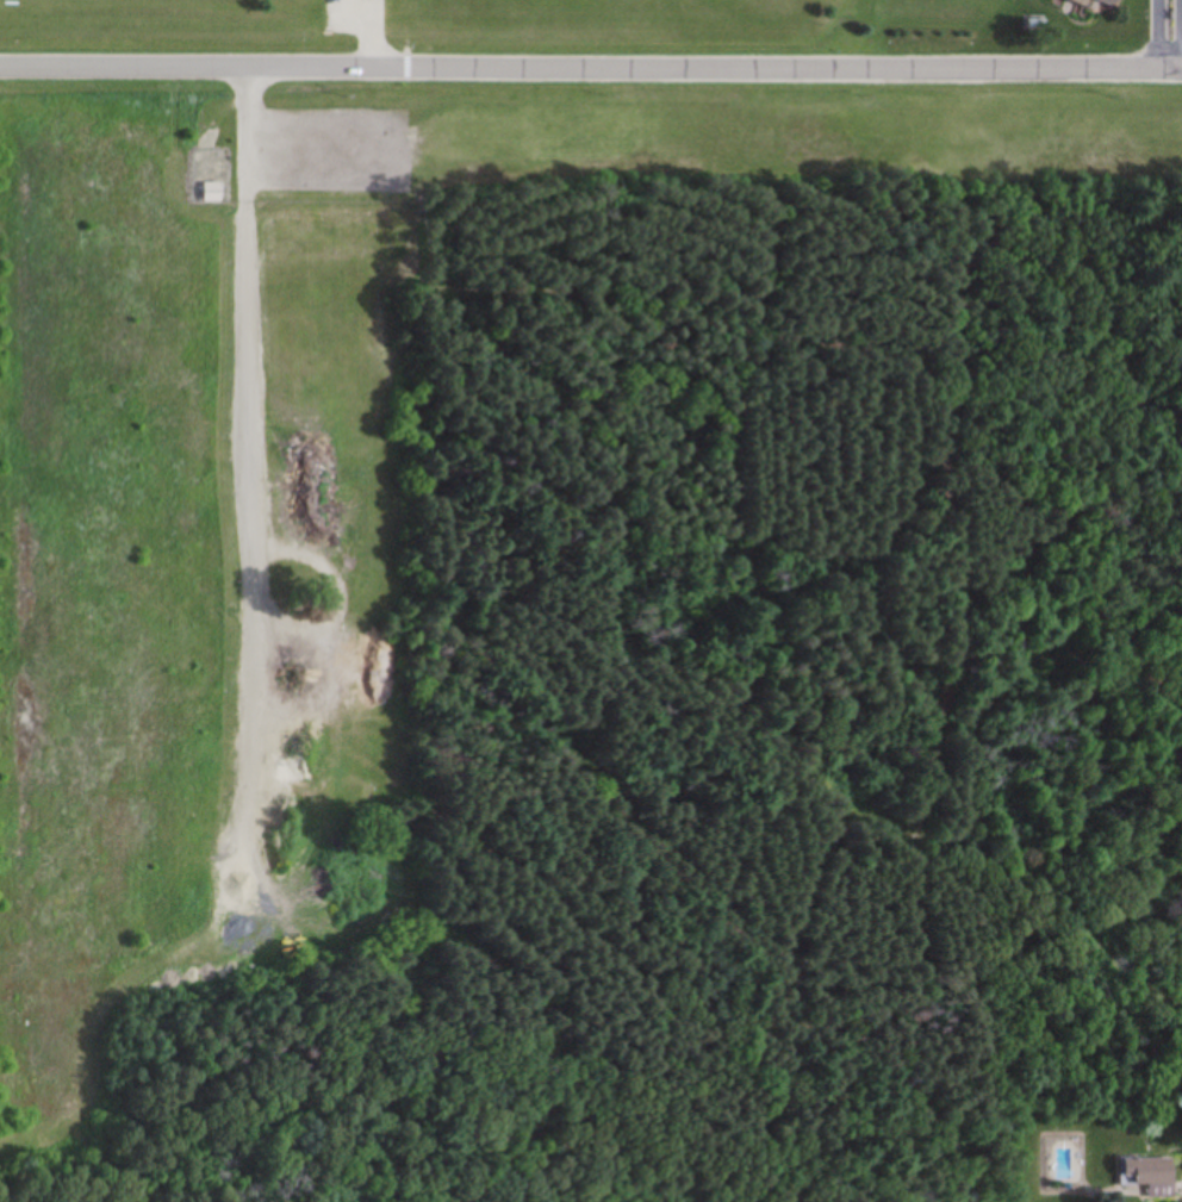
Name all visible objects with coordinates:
building: (1114, 1)
park: (446, 27)
road: (1161, 35)
road: (590, 68)
building: (214, 192)
crop: (6, 487)
park: (543, 605)
building: (1145, 1170)

